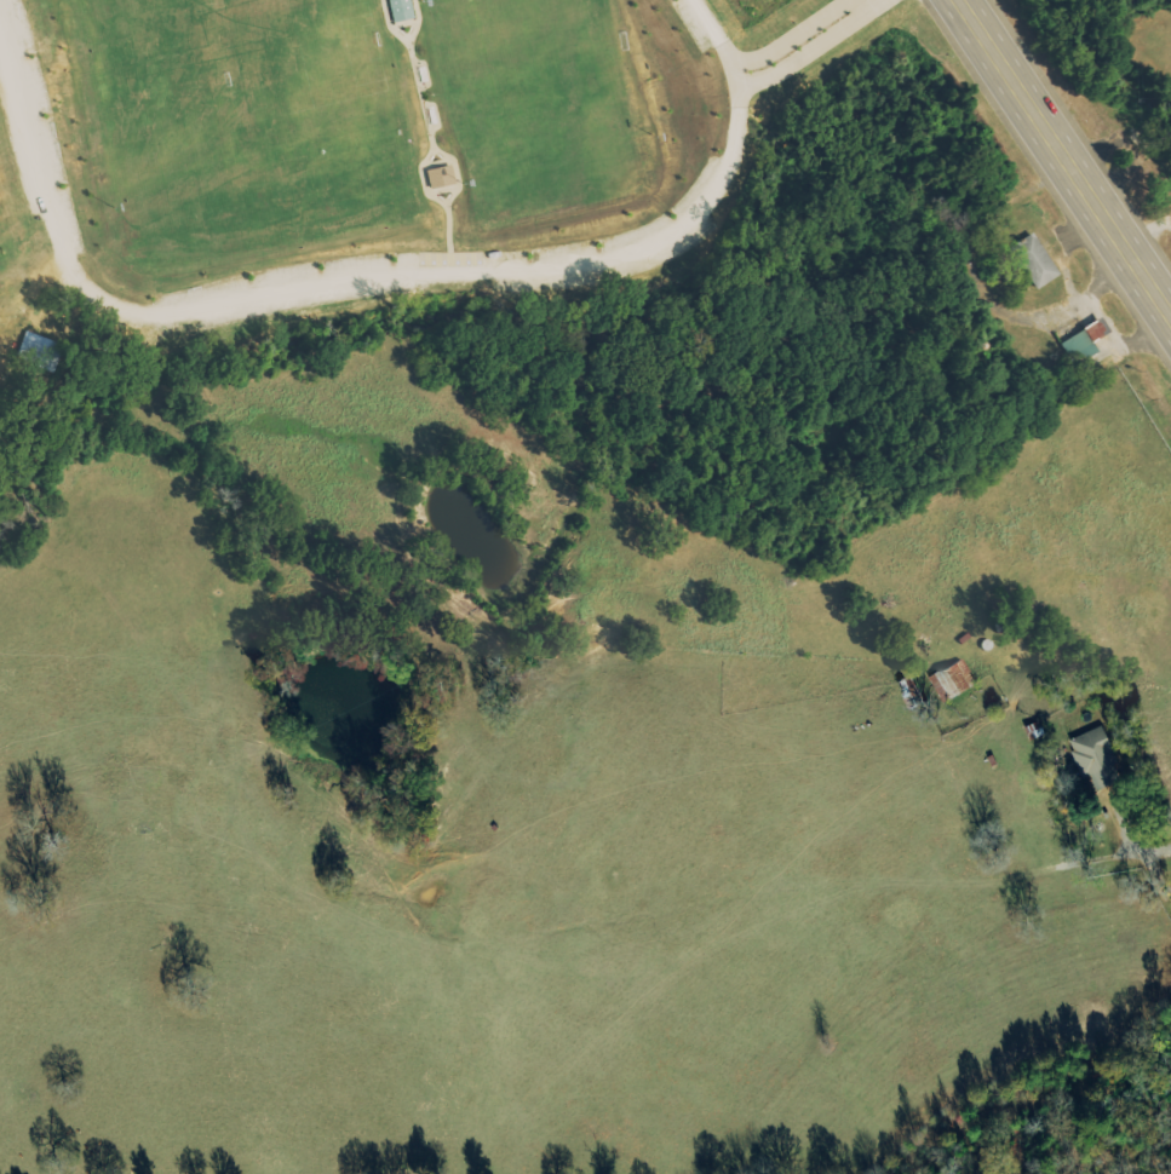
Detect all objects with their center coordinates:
building: (398, 10)
road: (803, 40)
road: (737, 90)
road: (1057, 162)
building: (437, 177)
road: (966, 259)
building: (1031, 261)
road: (271, 295)
building: (1080, 341)
building: (42, 350)
building: (954, 681)
building: (1100, 760)
road: (1154, 851)

